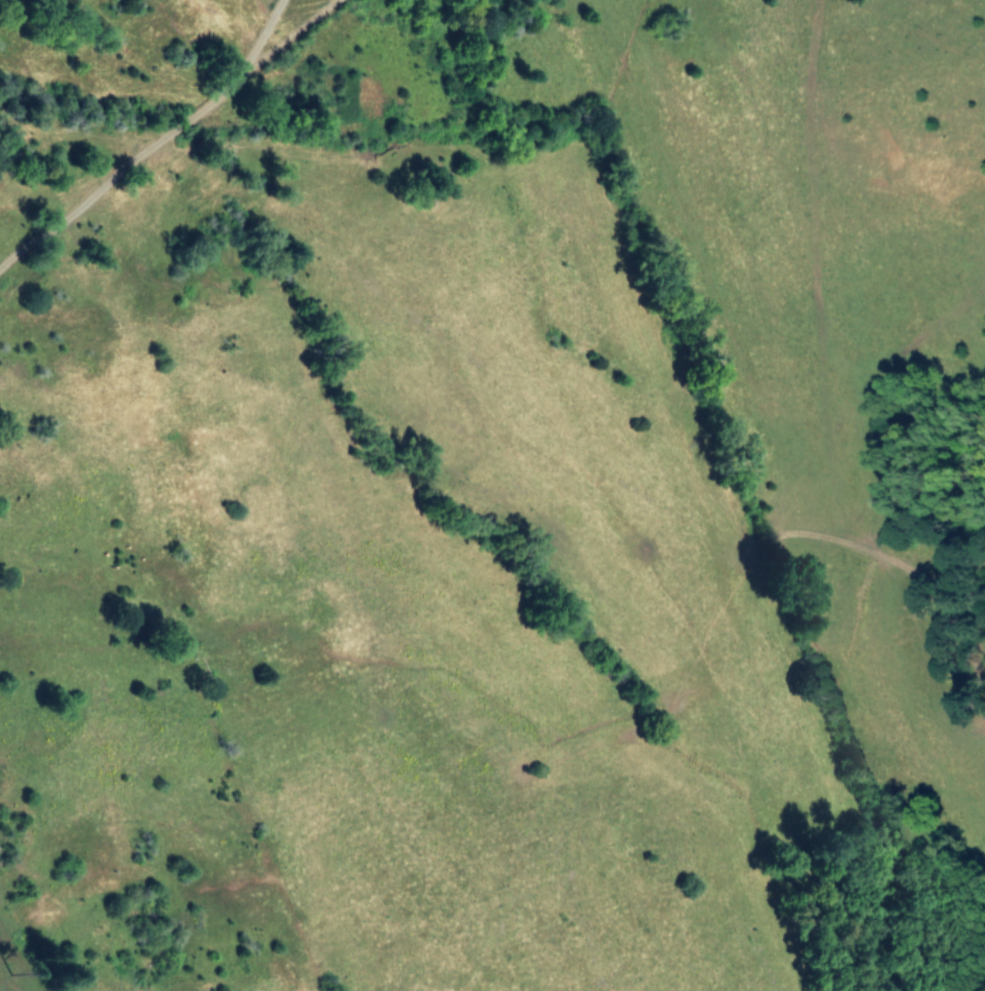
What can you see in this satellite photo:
road: (298, 36)
road: (157, 151)

